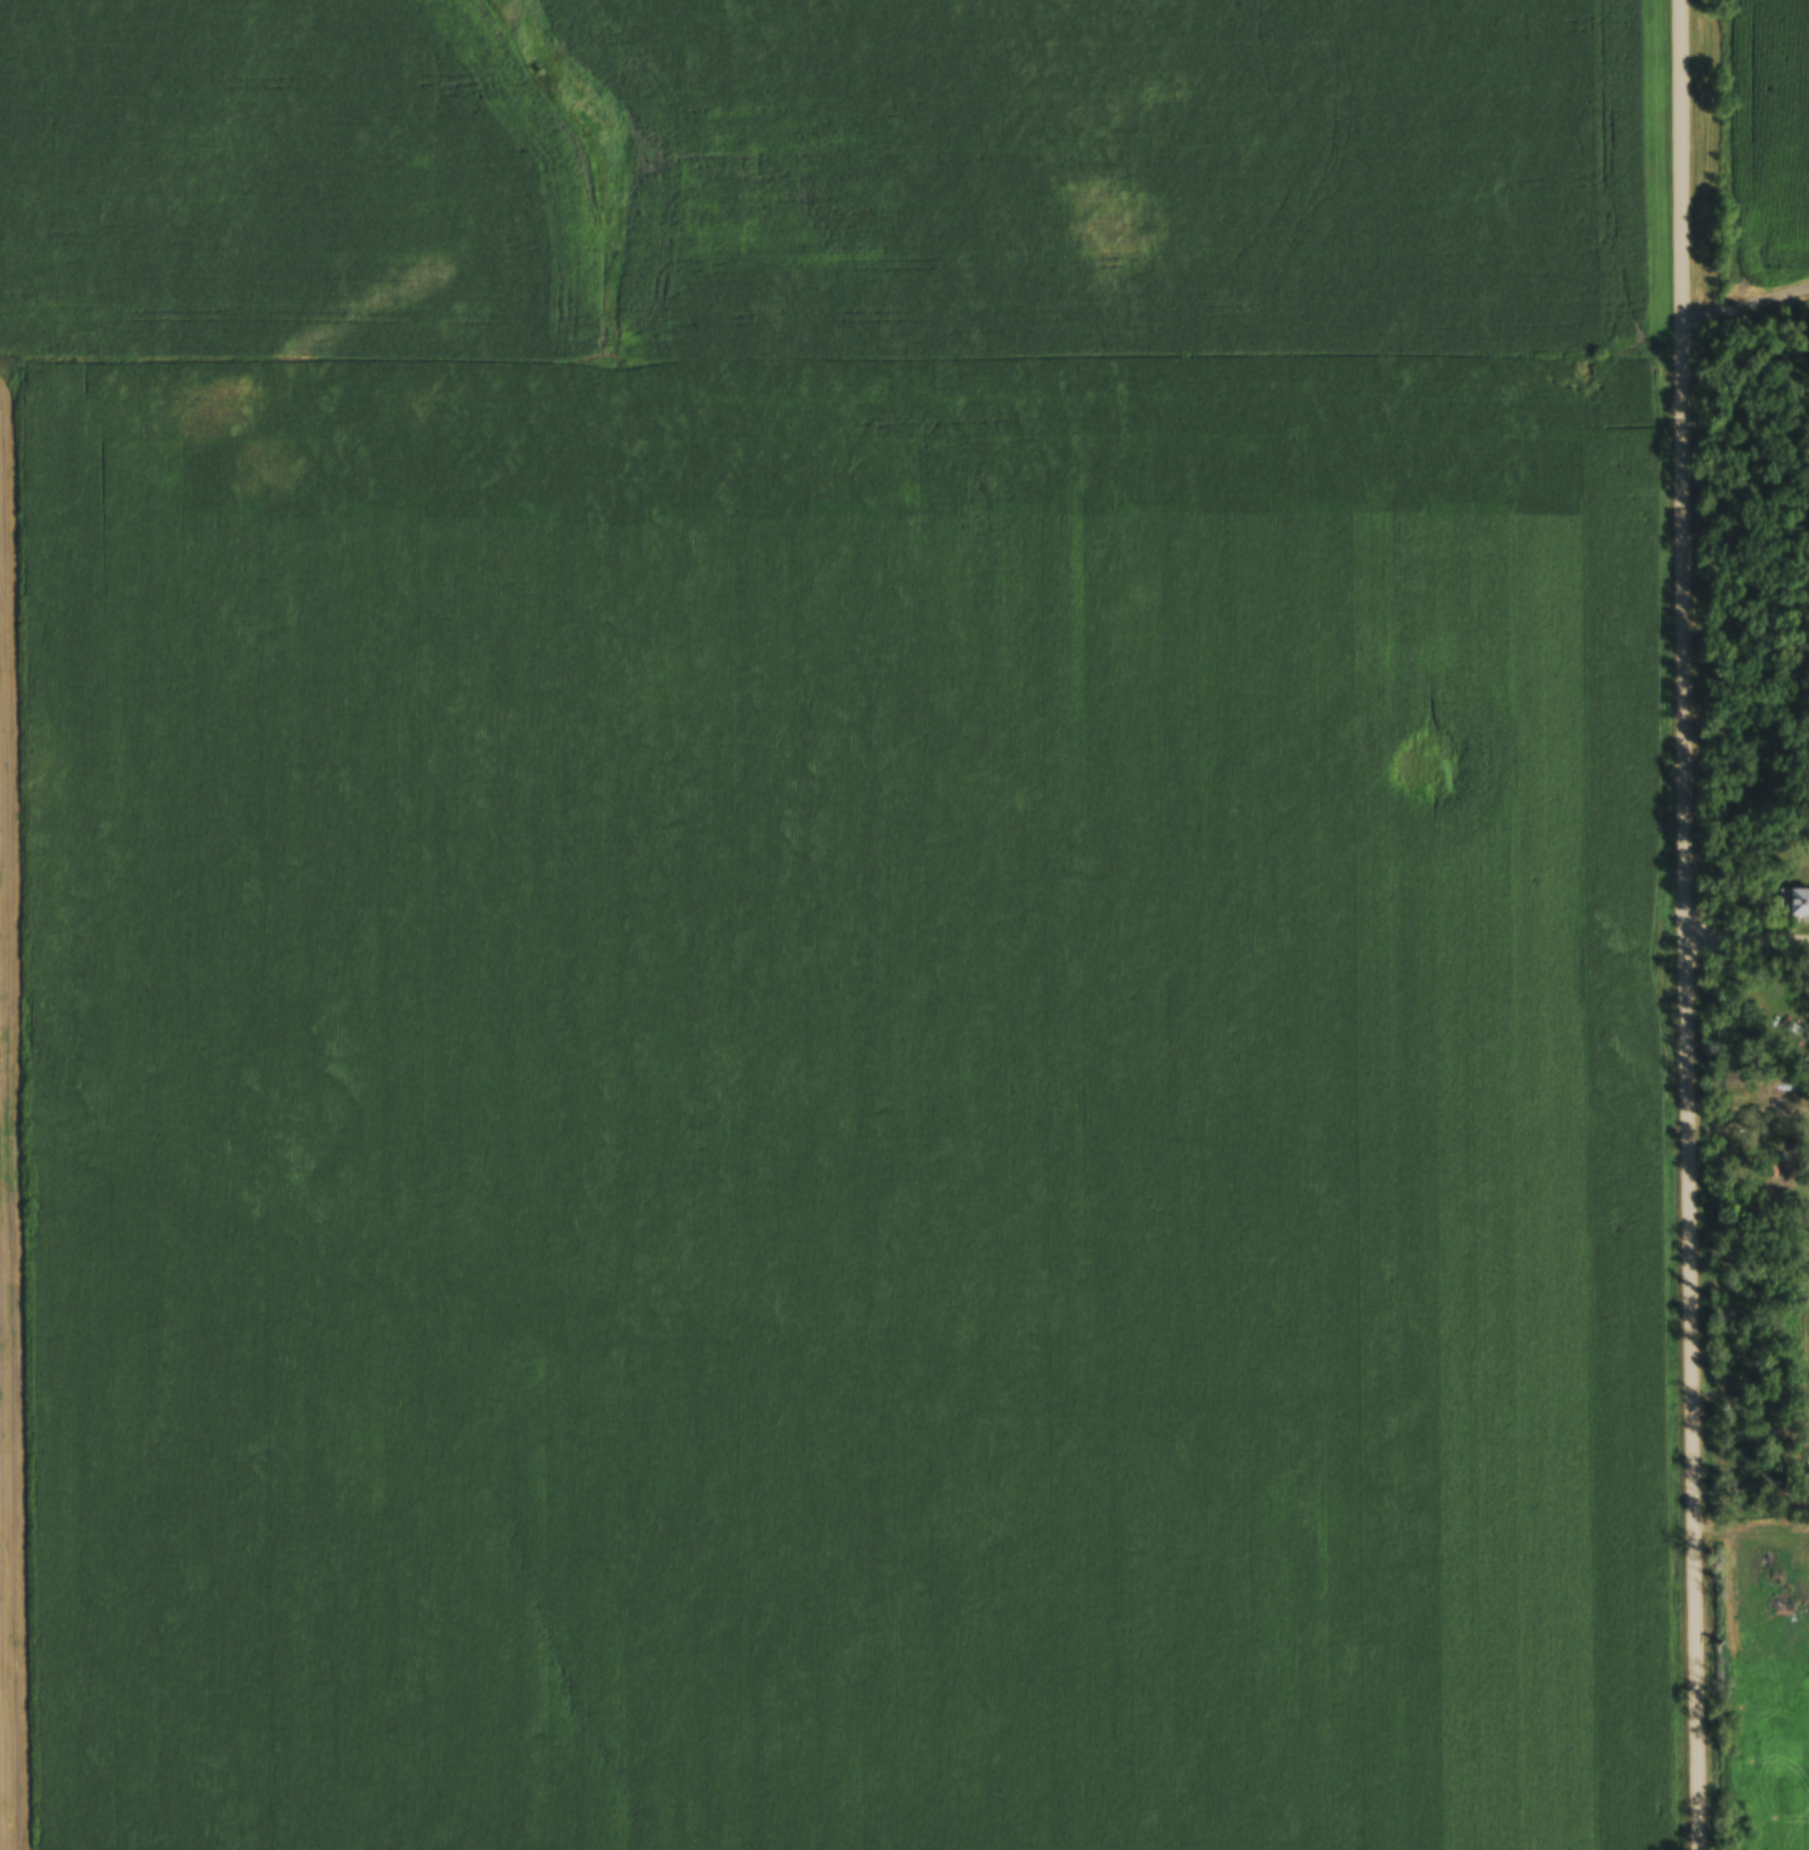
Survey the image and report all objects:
road: (1746, 307)
building: (1793, 907)
road: (1688, 925)
road: (1748, 938)
road: (1750, 1112)

